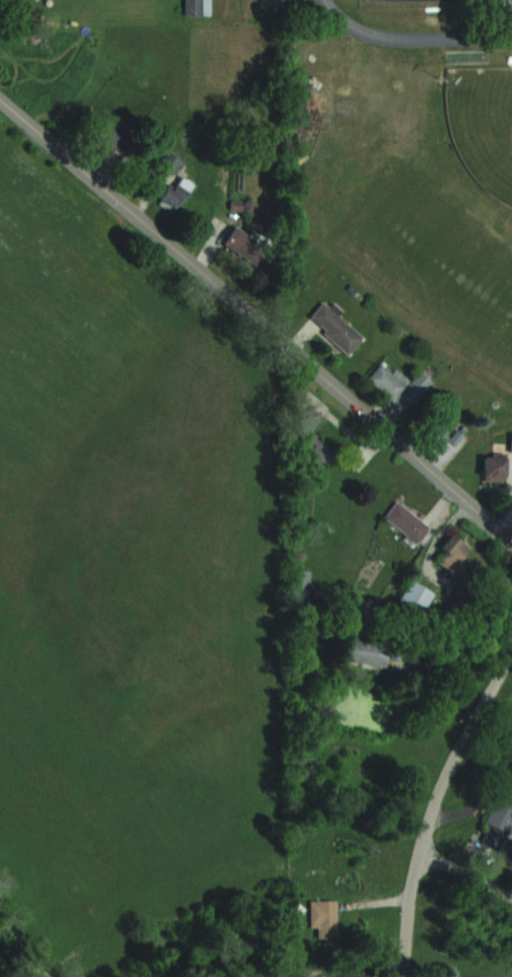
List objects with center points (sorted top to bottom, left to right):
building: (504, 2)
building: (197, 6)
road: (413, 37)
park: (483, 125)
building: (109, 136)
building: (170, 161)
building: (248, 247)
road: (256, 319)
building: (335, 326)
building: (398, 383)
building: (313, 441)
building: (510, 441)
building: (493, 466)
building: (405, 522)
building: (451, 553)
building: (301, 583)
building: (414, 596)
building: (361, 650)
road: (431, 804)
building: (498, 818)
road: (464, 872)
building: (323, 917)
river: (0, 976)

